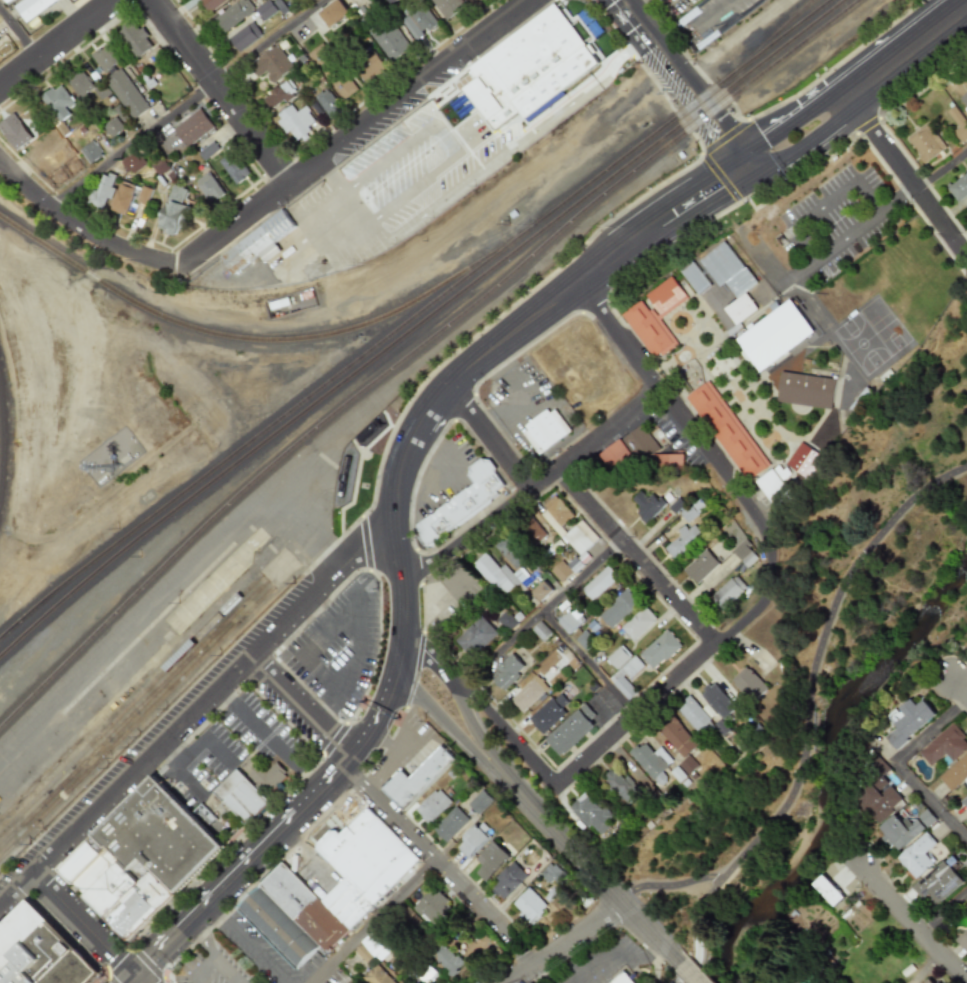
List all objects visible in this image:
building: (467, 0)
building: (210, 3)
building: (447, 6)
building: (32, 8)
building: (264, 10)
building: (332, 12)
building: (232, 15)
road: (712, 15)
building: (418, 21)
road: (19, 32)
road: (586, 32)
building: (244, 36)
building: (388, 39)
building: (135, 40)
building: (0, 42)
railway: (767, 42)
road: (57, 43)
building: (104, 58)
building: (270, 63)
building: (371, 66)
building: (528, 69)
building: (331, 71)
road: (685, 82)
building: (80, 83)
road: (859, 88)
road: (221, 91)
building: (278, 93)
building: (126, 94)
building: (965, 98)
building: (57, 102)
building: (326, 102)
road: (189, 103)
building: (118, 113)
building: (294, 121)
building: (959, 124)
building: (113, 127)
building: (192, 128)
building: (14, 131)
traffic signals: (723, 131)
road: (354, 133)
building: (926, 143)
traffic signals: (773, 149)
building: (207, 150)
building: (90, 152)
building: (132, 163)
building: (233, 167)
road: (941, 169)
building: (63, 172)
road: (906, 177)
road: (444, 179)
traffic signals: (717, 185)
building: (208, 187)
building: (959, 188)
building: (101, 191)
road: (706, 192)
building: (142, 194)
building: (122, 196)
road: (899, 201)
road: (827, 205)
building: (173, 210)
road: (725, 210)
road: (82, 226)
road: (852, 237)
building: (257, 243)
road: (764, 257)
road: (803, 274)
building: (695, 277)
building: (731, 279)
road: (812, 301)
railway: (412, 317)
building: (655, 318)
railway: (418, 324)
building: (774, 336)
railway: (265, 340)
road: (498, 344)
railway: (417, 350)
building: (807, 390)
road: (514, 393)
road: (670, 403)
building: (545, 430)
building: (729, 430)
road: (491, 437)
building: (639, 452)
building: (807, 459)
building: (778, 482)
road: (534, 488)
building: (464, 504)
building: (648, 505)
building: (556, 513)
building: (533, 531)
building: (684, 541)
building: (580, 544)
building: (509, 553)
building: (747, 553)
road: (638, 557)
building: (703, 566)
building: (562, 571)
building: (503, 575)
building: (601, 582)
building: (542, 591)
building: (731, 592)
building: (620, 608)
road: (541, 615)
road: (358, 618)
building: (507, 621)
building: (571, 621)
building: (641, 624)
building: (542, 631)
building: (476, 637)
parking lot: (338, 646)
building: (662, 650)
building: (620, 657)
road: (349, 658)
road: (592, 664)
road: (694, 666)
building: (508, 672)
building: (629, 677)
building: (753, 684)
road: (959, 686)
railway: (127, 693)
road: (460, 694)
building: (529, 695)
building: (723, 703)
railway: (130, 704)
road: (306, 709)
road: (199, 710)
building: (551, 713)
road: (805, 713)
railway: (133, 714)
building: (699, 716)
building: (911, 721)
railway: (136, 723)
road: (446, 723)
building: (573, 729)
road: (934, 732)
road: (510, 734)
road: (203, 736)
building: (681, 737)
road: (272, 740)
road: (406, 745)
building: (944, 746)
road: (393, 759)
river: (831, 762)
building: (656, 763)
road: (901, 763)
building: (691, 764)
road: (180, 770)
building: (955, 773)
building: (267, 776)
road: (336, 778)
building: (417, 778)
building: (622, 785)
building: (241, 796)
building: (877, 799)
building: (480, 802)
road: (934, 802)
building: (964, 802)
building: (432, 806)
building: (593, 813)
building: (450, 824)
building: (905, 828)
building: (474, 840)
building: (918, 856)
building: (141, 858)
building: (491, 860)
road: (588, 865)
road: (443, 866)
building: (552, 873)
building: (508, 880)
building: (832, 881)
building: (937, 882)
road: (667, 887)
building: (360, 889)
building: (429, 905)
building: (529, 906)
road: (944, 913)
road: (375, 921)
road: (912, 922)
road: (83, 924)
road: (580, 934)
building: (963, 940)
road: (245, 944)
building: (367, 948)
building: (38, 952)
road: (617, 952)
traffic signals: (113, 954)
traffic signals: (155, 957)
building: (445, 959)
road: (688, 973)
building: (424, 974)
road: (522, 974)
building: (377, 975)
road: (538, 976)
building: (622, 978)
road: (131, 979)
road: (138, 979)
building: (930, 980)

